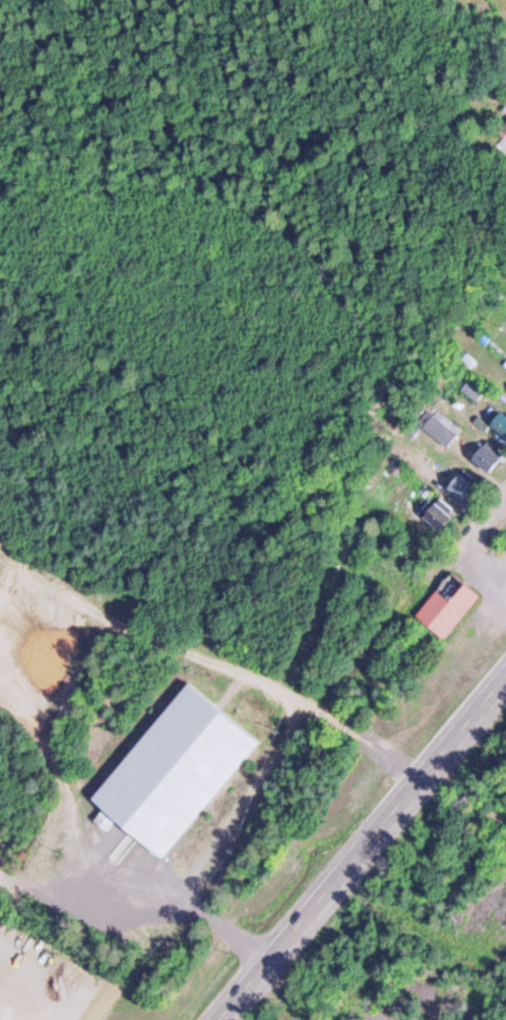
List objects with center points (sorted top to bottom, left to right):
building: (504, 127)
building: (473, 388)
building: (500, 421)
building: (442, 430)
building: (490, 455)
building: (437, 512)
road: (486, 523)
building: (448, 605)
building: (175, 766)
road: (362, 848)

